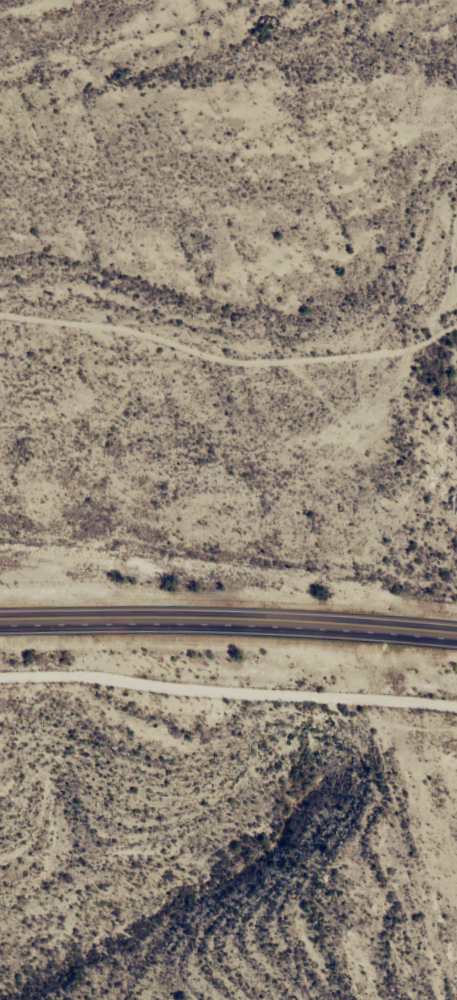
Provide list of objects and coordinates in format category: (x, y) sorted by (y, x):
road: (228, 621)

